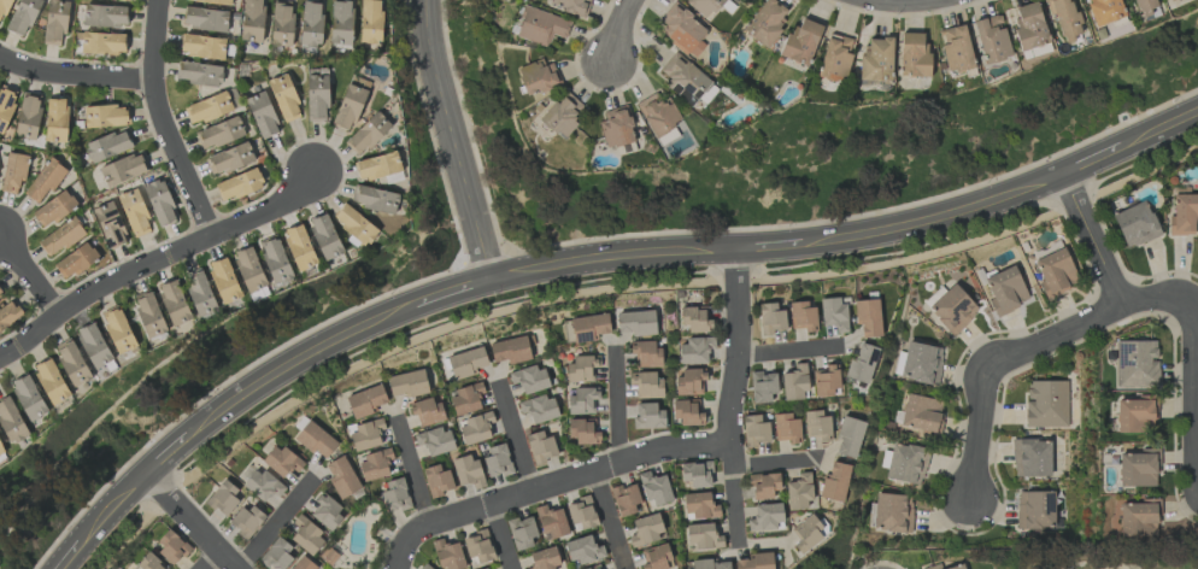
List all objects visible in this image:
building: (123, 0)
building: (1170, 0)
building: (215, 1)
road: (902, 1)
building: (570, 6)
building: (704, 6)
building: (1144, 6)
building: (4, 8)
building: (1105, 11)
building: (104, 16)
building: (23, 17)
building: (205, 19)
building: (1065, 19)
building: (252, 20)
building: (54, 22)
building: (370, 22)
building: (765, 22)
building: (281, 23)
building: (310, 23)
building: (340, 24)
building: (540, 27)
building: (1029, 27)
building: (682, 30)
road: (619, 34)
building: (992, 39)
building: (800, 41)
building: (101, 43)
building: (201, 46)
building: (956, 48)
building: (912, 54)
building: (835, 59)
building: (876, 59)
building: (198, 74)
building: (536, 76)
road: (75, 77)
building: (683, 78)
rooftop solar panel: (687, 90)
rooftop solar panel: (699, 93)
rooftop solar panel: (1, 96)
building: (316, 96)
building: (283, 98)
rooftop solar panel: (10, 101)
building: (6, 106)
building: (348, 107)
building: (207, 108)
building: (262, 115)
building: (657, 115)
building: (105, 116)
building: (560, 116)
building: (27, 117)
building: (55, 121)
road: (164, 123)
rooftop solar panel: (2, 127)
building: (616, 127)
road: (1158, 128)
building: (219, 133)
building: (366, 133)
road: (454, 141)
building: (107, 146)
building: (229, 159)
road: (1092, 159)
building: (380, 168)
building: (122, 169)
building: (13, 171)
building: (43, 181)
building: (239, 184)
building: (374, 199)
building: (159, 203)
building: (53, 209)
building: (134, 212)
building: (1184, 215)
road: (935, 218)
building: (108, 224)
building: (354, 224)
building: (1135, 224)
building: (60, 236)
building: (324, 236)
road: (1091, 239)
building: (299, 247)
road: (770, 248)
road: (615, 259)
building: (75, 260)
building: (275, 260)
road: (155, 264)
building: (248, 269)
building: (1053, 272)
road: (29, 278)
building: (223, 281)
building: (1005, 289)
building: (199, 293)
building: (0, 294)
road: (454, 294)
building: (174, 303)
building: (952, 309)
rooftop solar panel: (956, 309)
building: (8, 312)
building: (148, 313)
building: (833, 313)
building: (801, 316)
building: (868, 317)
building: (770, 318)
building: (694, 319)
road: (1087, 319)
building: (635, 323)
building: (585, 328)
building: (118, 330)
building: (93, 346)
building: (510, 350)
building: (692, 351)
building: (645, 353)
road: (789, 353)
rooftop solar panel: (1122, 353)
building: (71, 362)
road: (295, 362)
building: (465, 363)
building: (862, 363)
building: (921, 363)
building: (1135, 364)
building: (581, 368)
building: (528, 379)
road: (1193, 379)
building: (51, 381)
building: (689, 381)
building: (824, 381)
building: (407, 383)
building: (645, 383)
building: (794, 383)
building: (762, 386)
building: (28, 397)
building: (465, 398)
road: (735, 398)
building: (366, 400)
building: (582, 400)
building: (1046, 404)
building: (539, 409)
road: (617, 410)
building: (425, 411)
building: (687, 412)
building: (921, 413)
building: (1135, 413)
building: (647, 416)
building: (11, 421)
building: (817, 426)
building: (475, 428)
building: (787, 428)
building: (754, 430)
building: (583, 432)
road: (980, 432)
building: (365, 435)
building: (848, 438)
building: (315, 440)
road: (517, 440)
building: (435, 441)
building: (540, 447)
road: (166, 452)
building: (1, 453)
building: (1030, 457)
building: (281, 461)
building: (495, 462)
building: (906, 463)
building: (374, 464)
road: (775, 464)
building: (1138, 469)
building: (468, 471)
building: (695, 474)
road: (412, 475)
building: (341, 476)
building: (436, 481)
building: (834, 482)
building: (262, 485)
building: (764, 485)
road: (552, 487)
building: (654, 488)
building: (798, 492)
building: (394, 495)
building: (223, 497)
building: (624, 499)
rooftop solar panel: (1050, 501)
road: (113, 505)
building: (698, 505)
building: (1034, 509)
building: (325, 512)
building: (892, 512)
building: (581, 514)
building: (765, 517)
road: (190, 518)
building: (1138, 518)
building: (247, 520)
road: (611, 521)
building: (551, 522)
road: (270, 524)
building: (645, 529)
building: (522, 533)
building: (306, 535)
building: (701, 536)
road: (501, 538)
building: (171, 546)
building: (477, 546)
building: (583, 551)
building: (276, 553)
building: (448, 555)
road: (69, 556)
building: (656, 557)
road: (209, 559)
building: (542, 559)
building: (754, 561)
building: (149, 563)
building: (301, 564)
building: (711, 564)
building: (423, 567)
building: (594, 567)
building: (933, 567)
building: (956, 567)
building: (485, 568)

